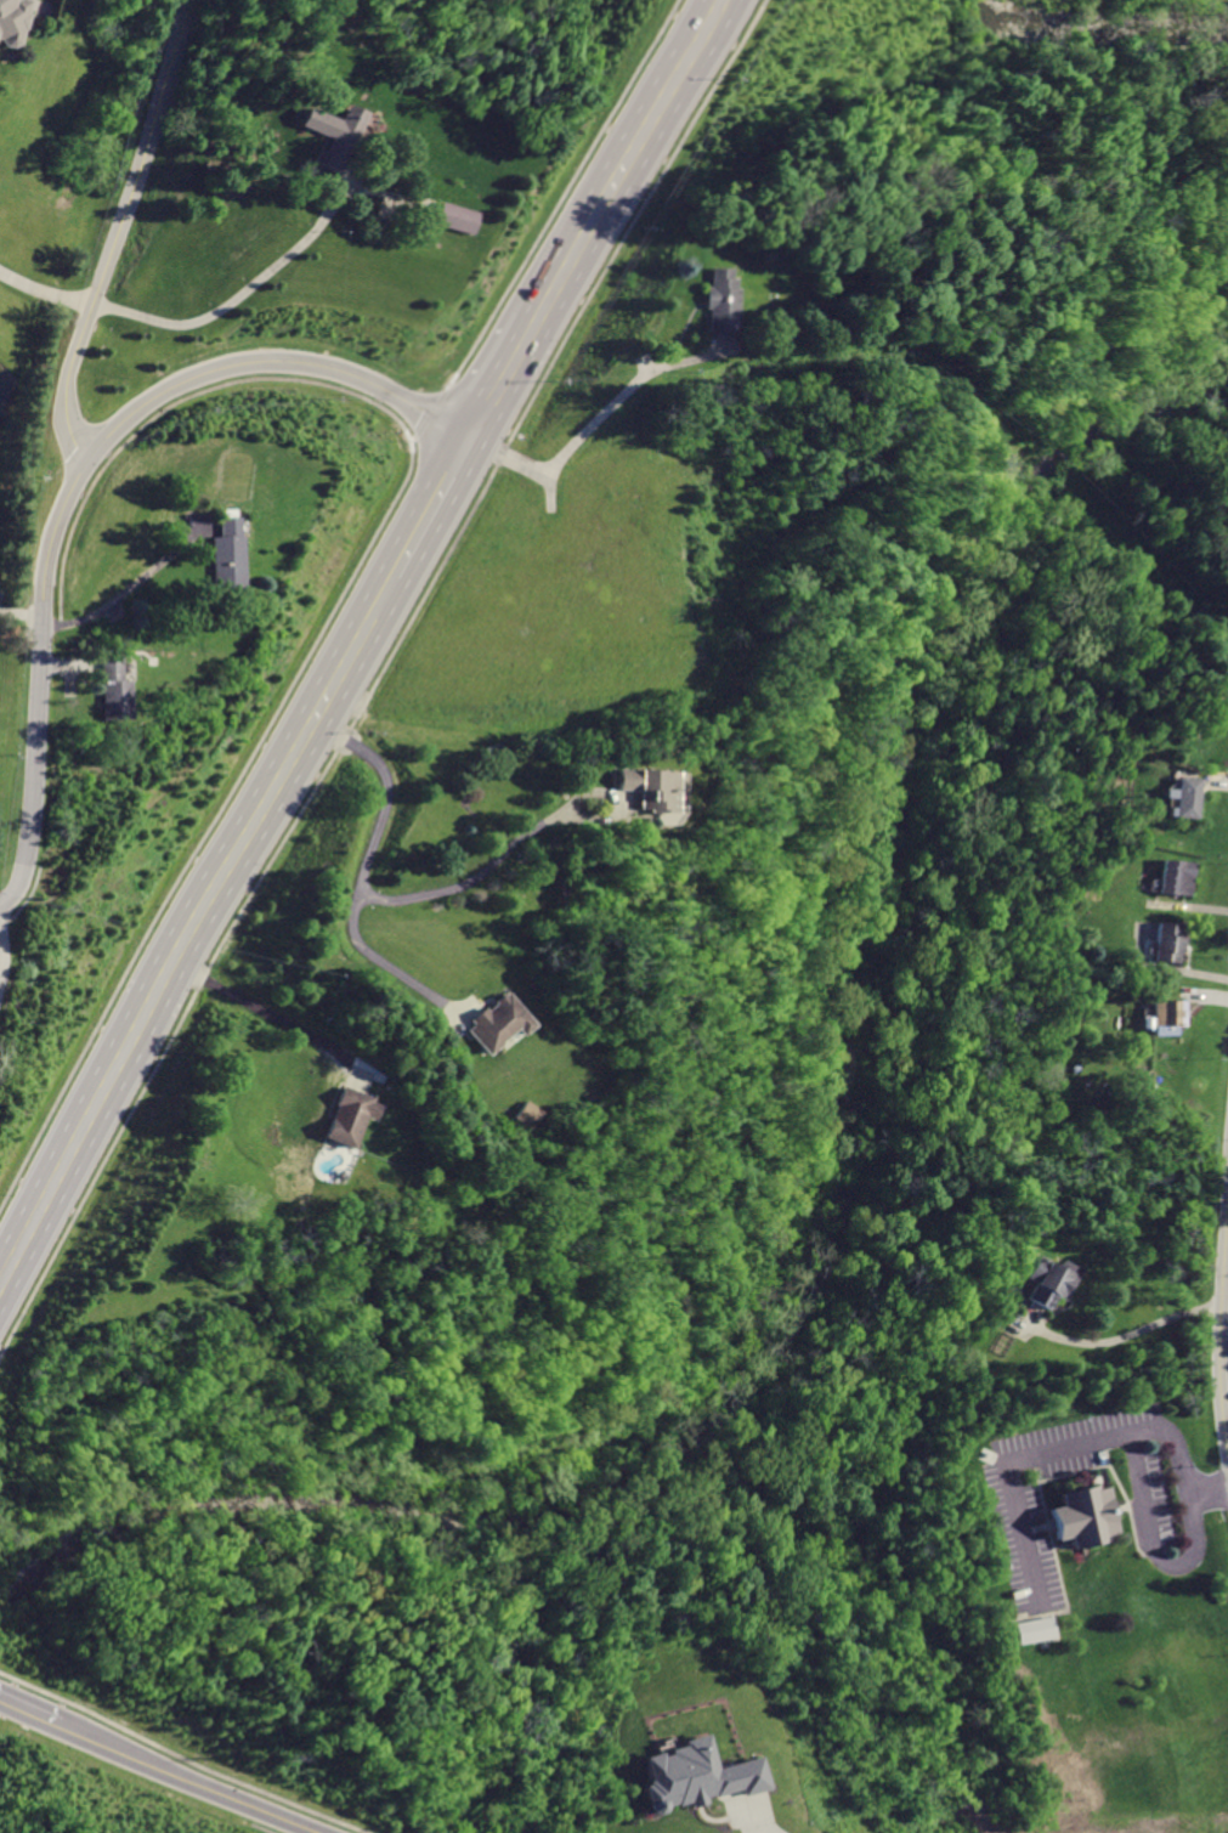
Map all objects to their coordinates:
building: (7, 19)
building: (330, 134)
road: (630, 158)
building: (453, 217)
road: (117, 231)
road: (43, 289)
road: (234, 296)
building: (720, 300)
road: (275, 358)
road: (507, 377)
road: (598, 422)
road: (435, 504)
building: (226, 553)
road: (119, 588)
road: (21, 609)
road: (39, 683)
building: (114, 689)
building: (652, 788)
building: (1187, 796)
road: (358, 864)
road: (479, 869)
building: (1177, 877)
road: (196, 927)
building: (1168, 940)
road: (1, 952)
road: (1172, 969)
road: (272, 1012)
building: (1167, 1015)
building: (496, 1022)
building: (530, 1114)
building: (352, 1115)
building: (1046, 1279)
road: (1219, 1331)
road: (1115, 1337)
road: (1076, 1439)
parking lot: (1018, 1507)
building: (1085, 1514)
road: (1149, 1543)
building: (1036, 1628)
road: (33, 1713)
building: (695, 1775)
road: (196, 1780)
road: (752, 1816)

